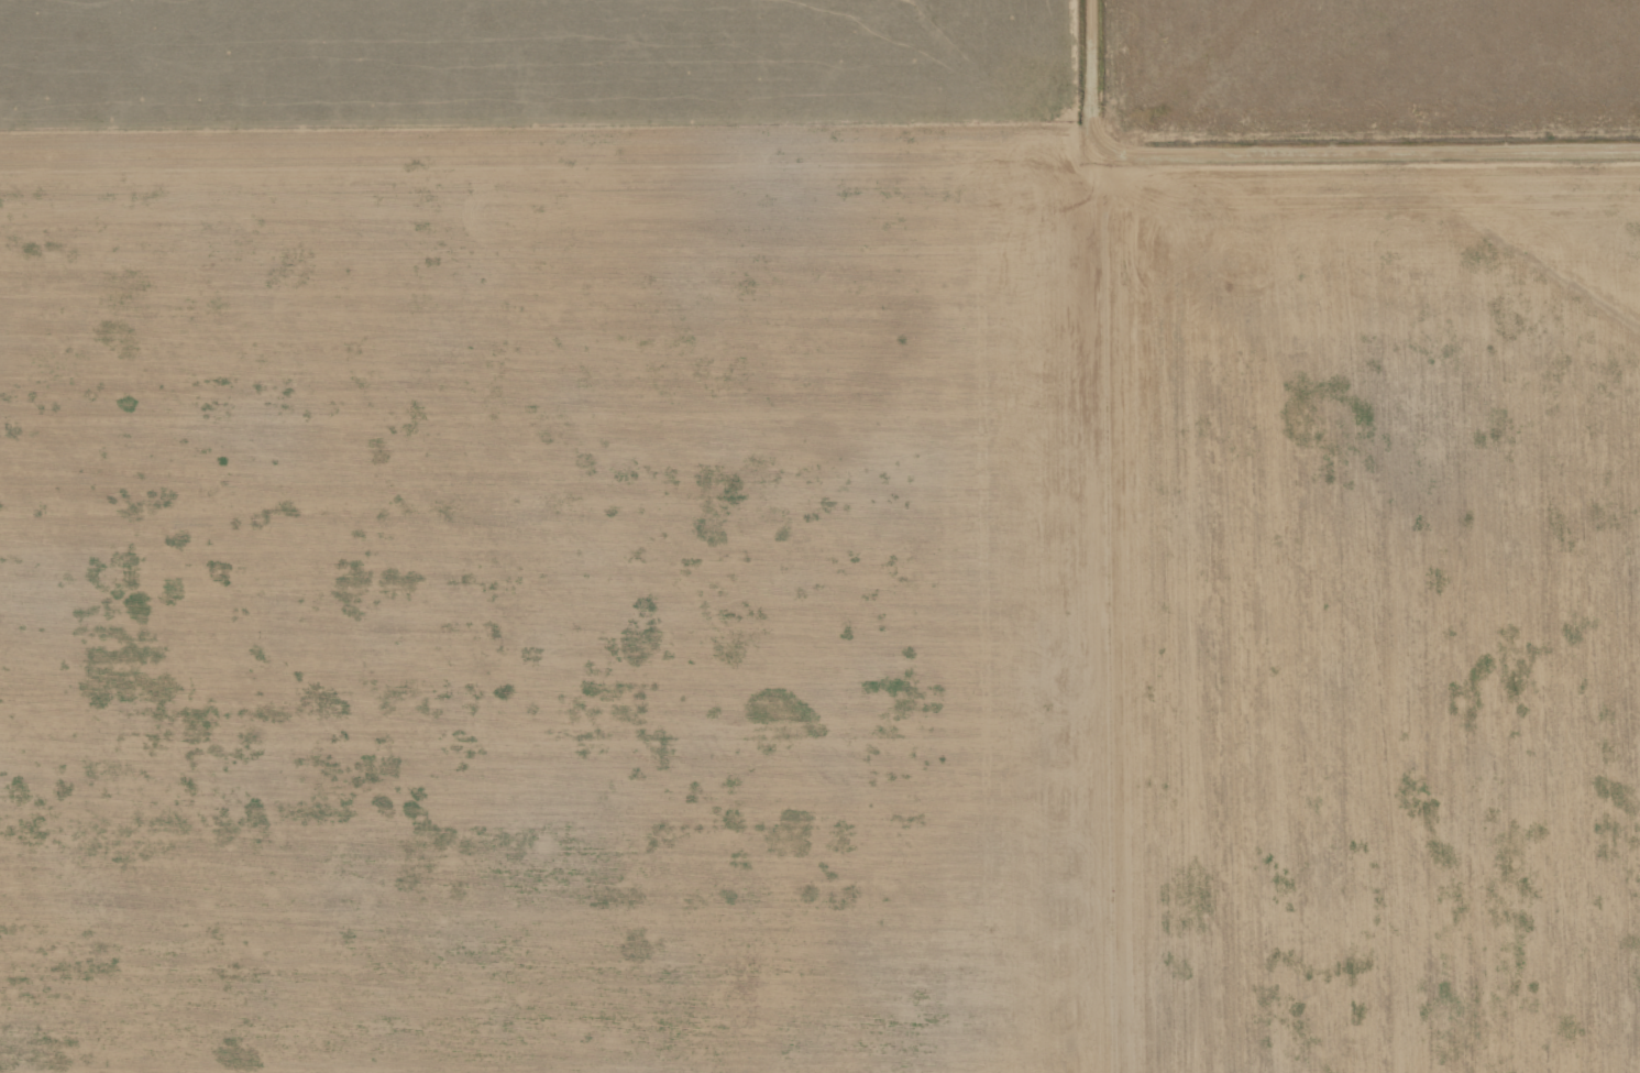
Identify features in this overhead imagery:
road: (1300, 150)
road: (1112, 606)

